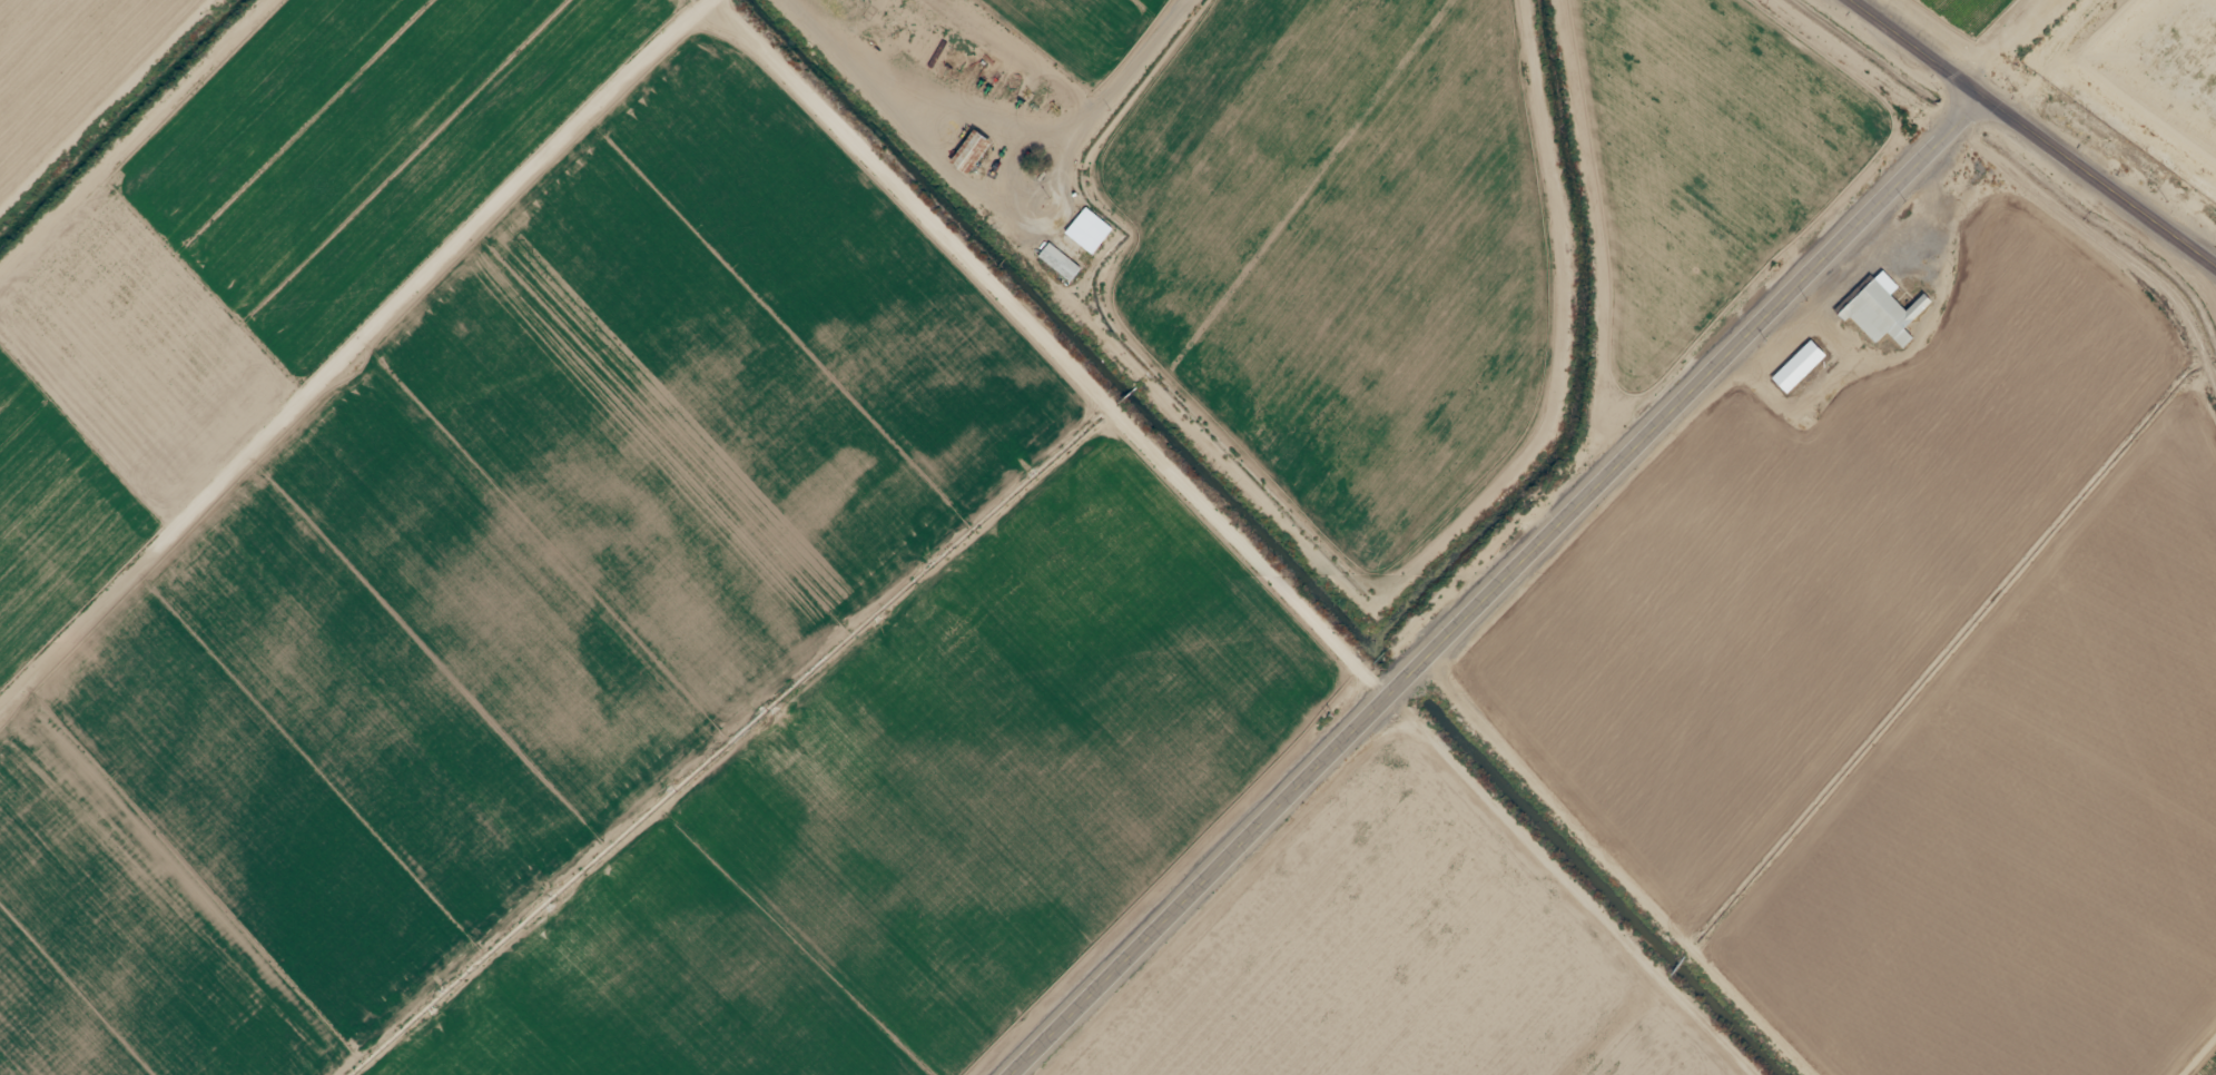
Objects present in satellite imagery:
road: (1144, 126)
road: (2028, 136)
road: (174, 172)
road: (1050, 349)
building: (1800, 363)
road: (1503, 589)
road: (1628, 869)

